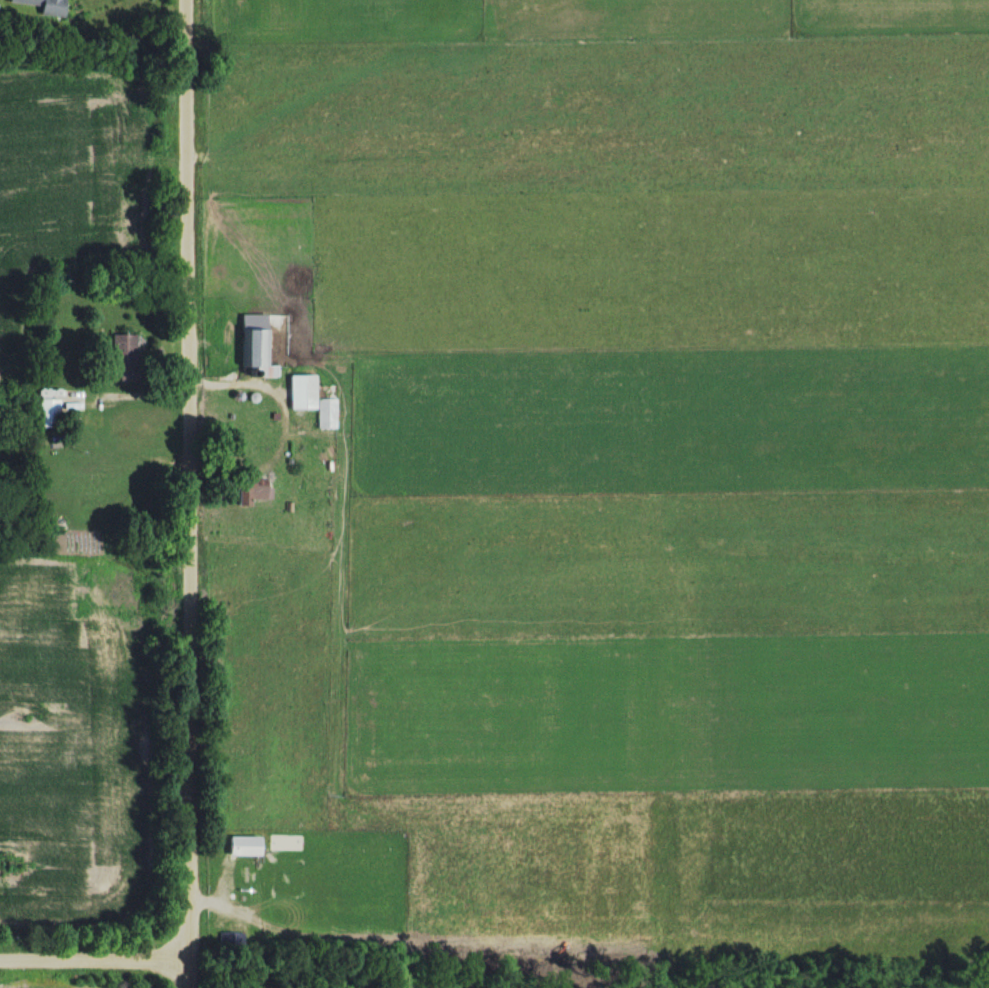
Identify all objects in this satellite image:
building: (40, 6)
building: (248, 348)
building: (116, 349)
building: (308, 400)
building: (39, 411)
road: (186, 493)
building: (234, 496)
building: (233, 846)
building: (226, 939)
road: (93, 958)

